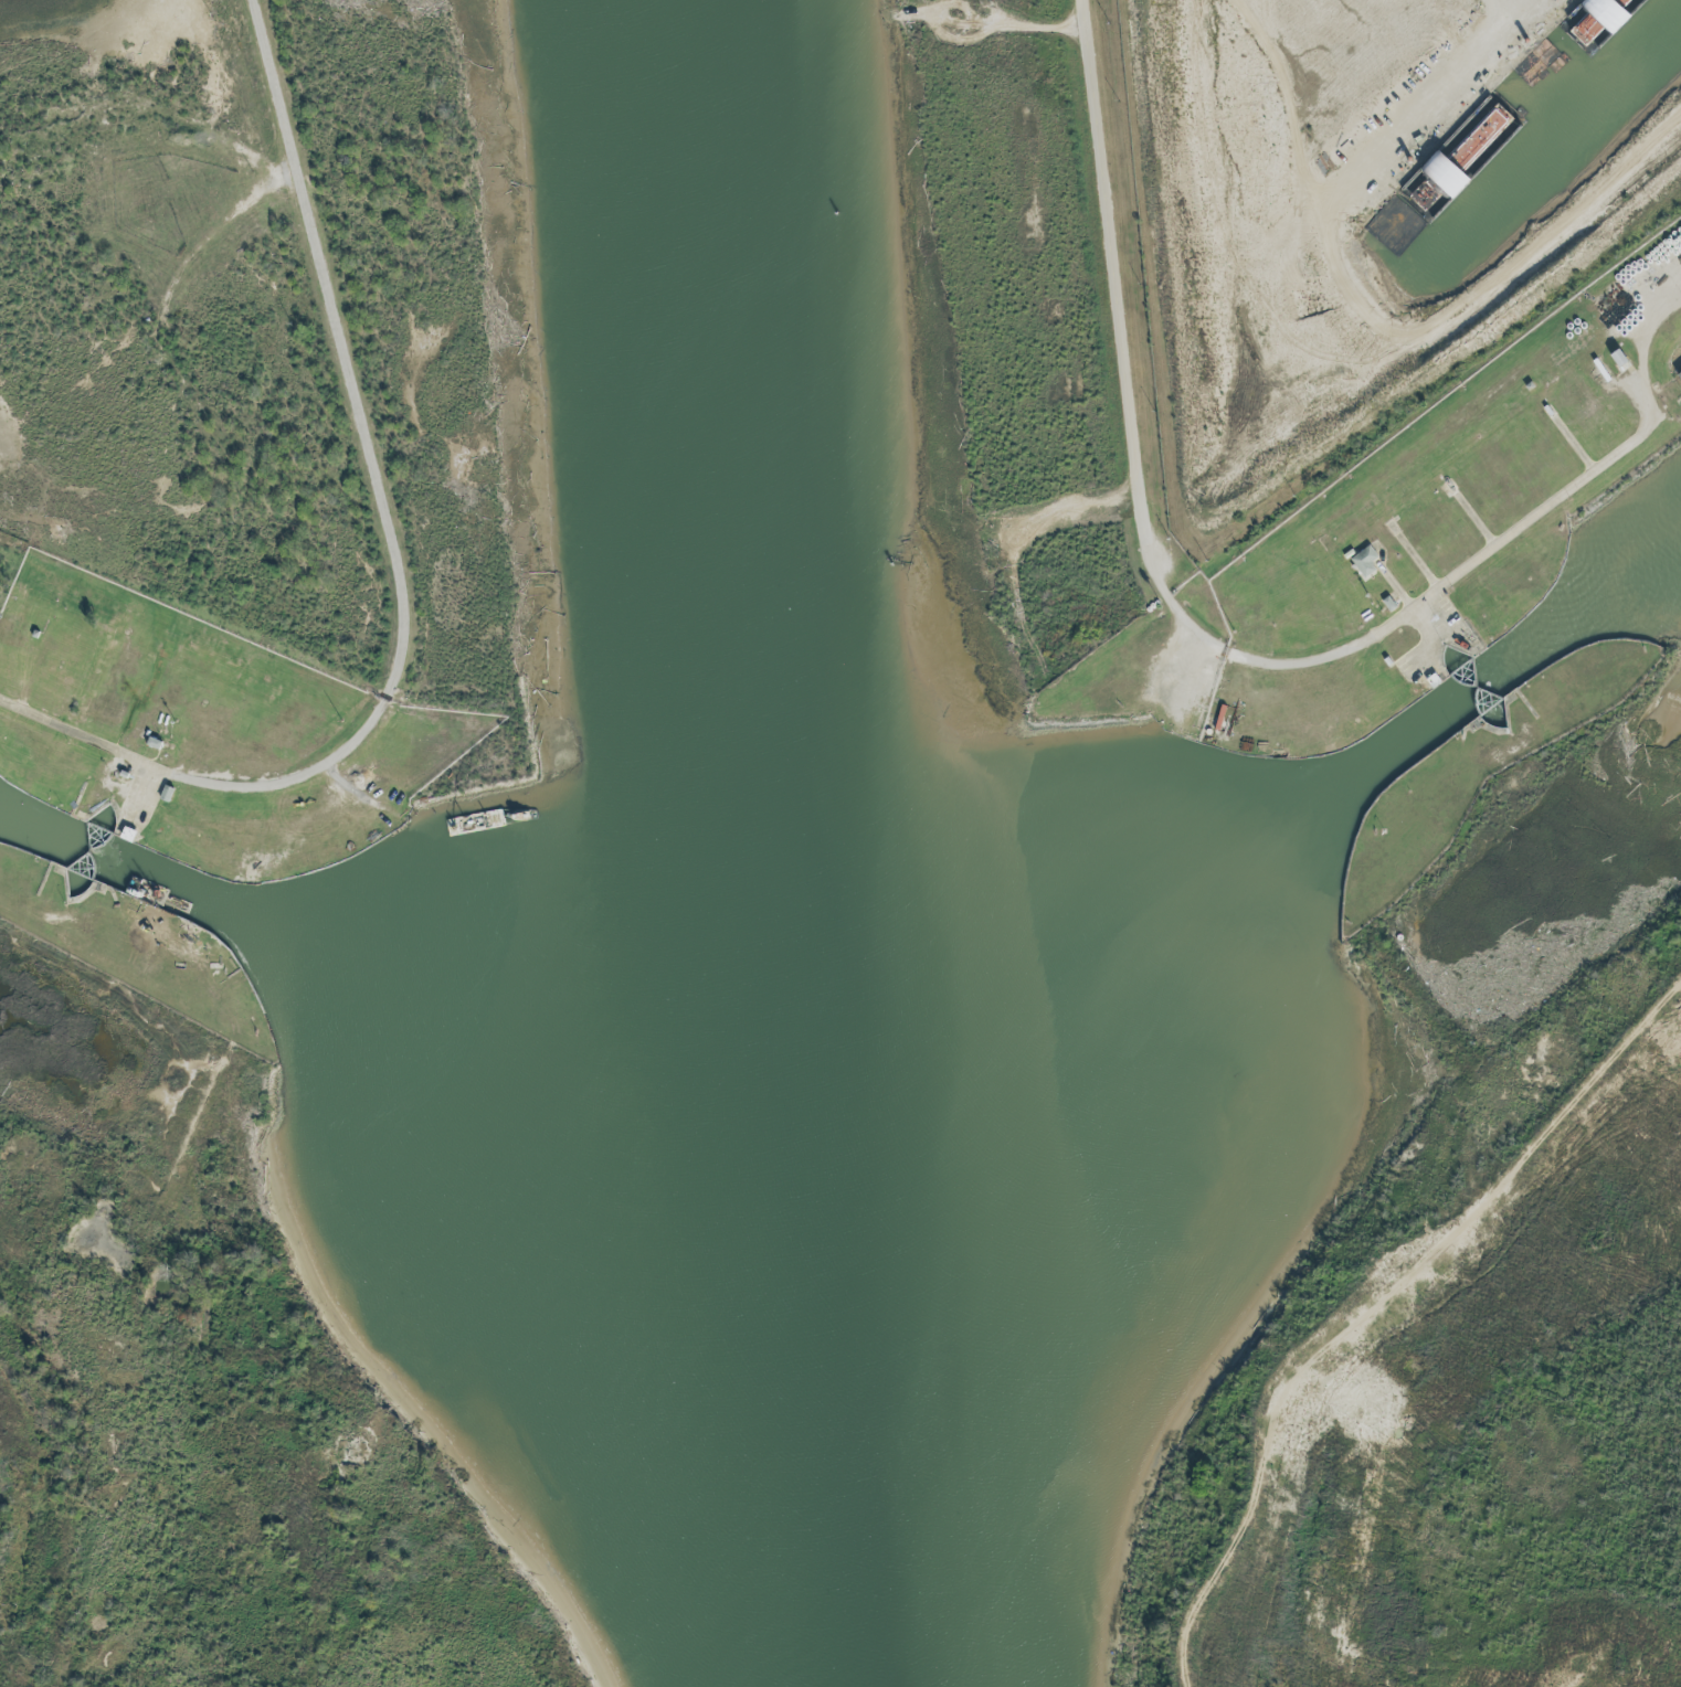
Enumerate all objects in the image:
building: (1405, 215)
building: (1679, 378)
building: (1364, 564)
road: (399, 565)
road: (1205, 644)
river: (771, 845)

